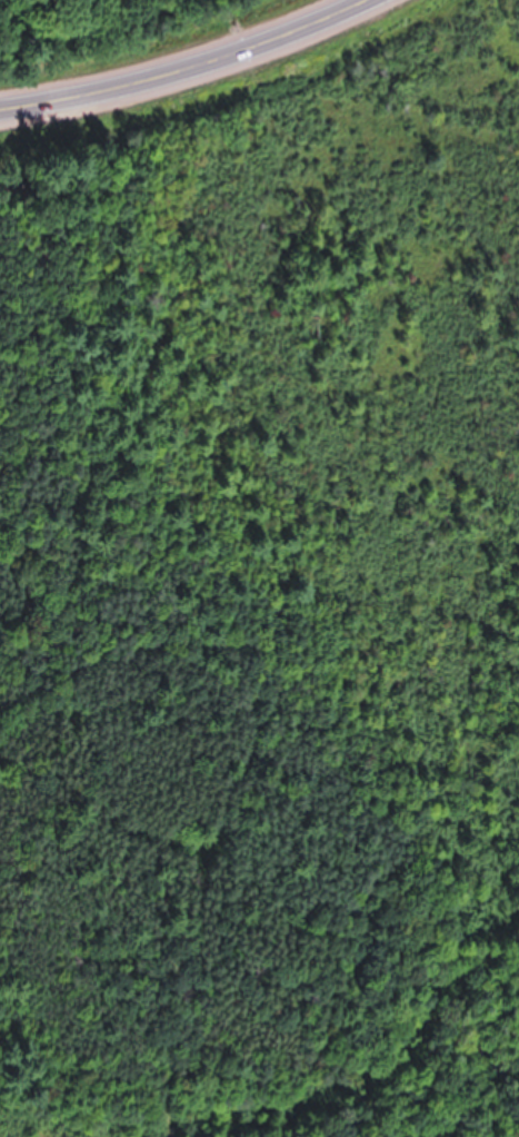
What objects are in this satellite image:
road: (181, 72)

